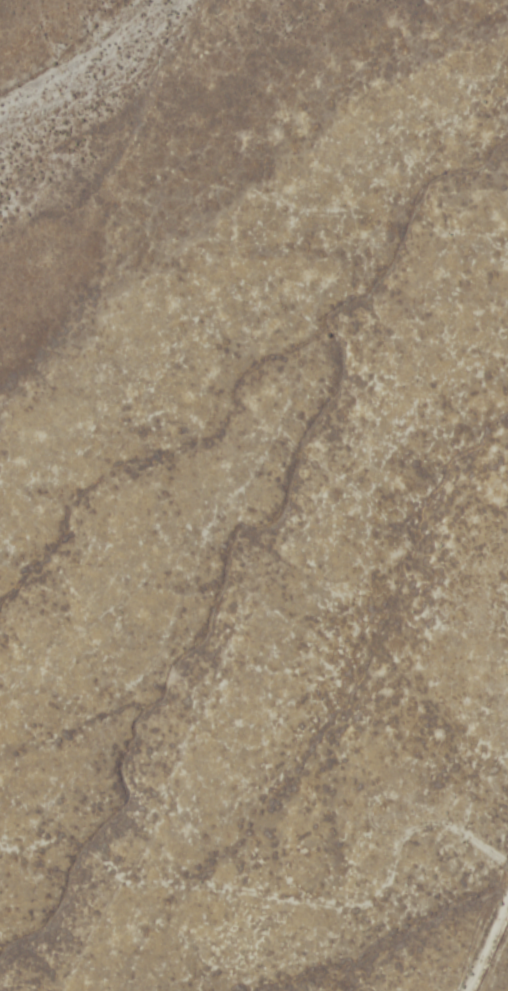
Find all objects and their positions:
road: (506, 987)

